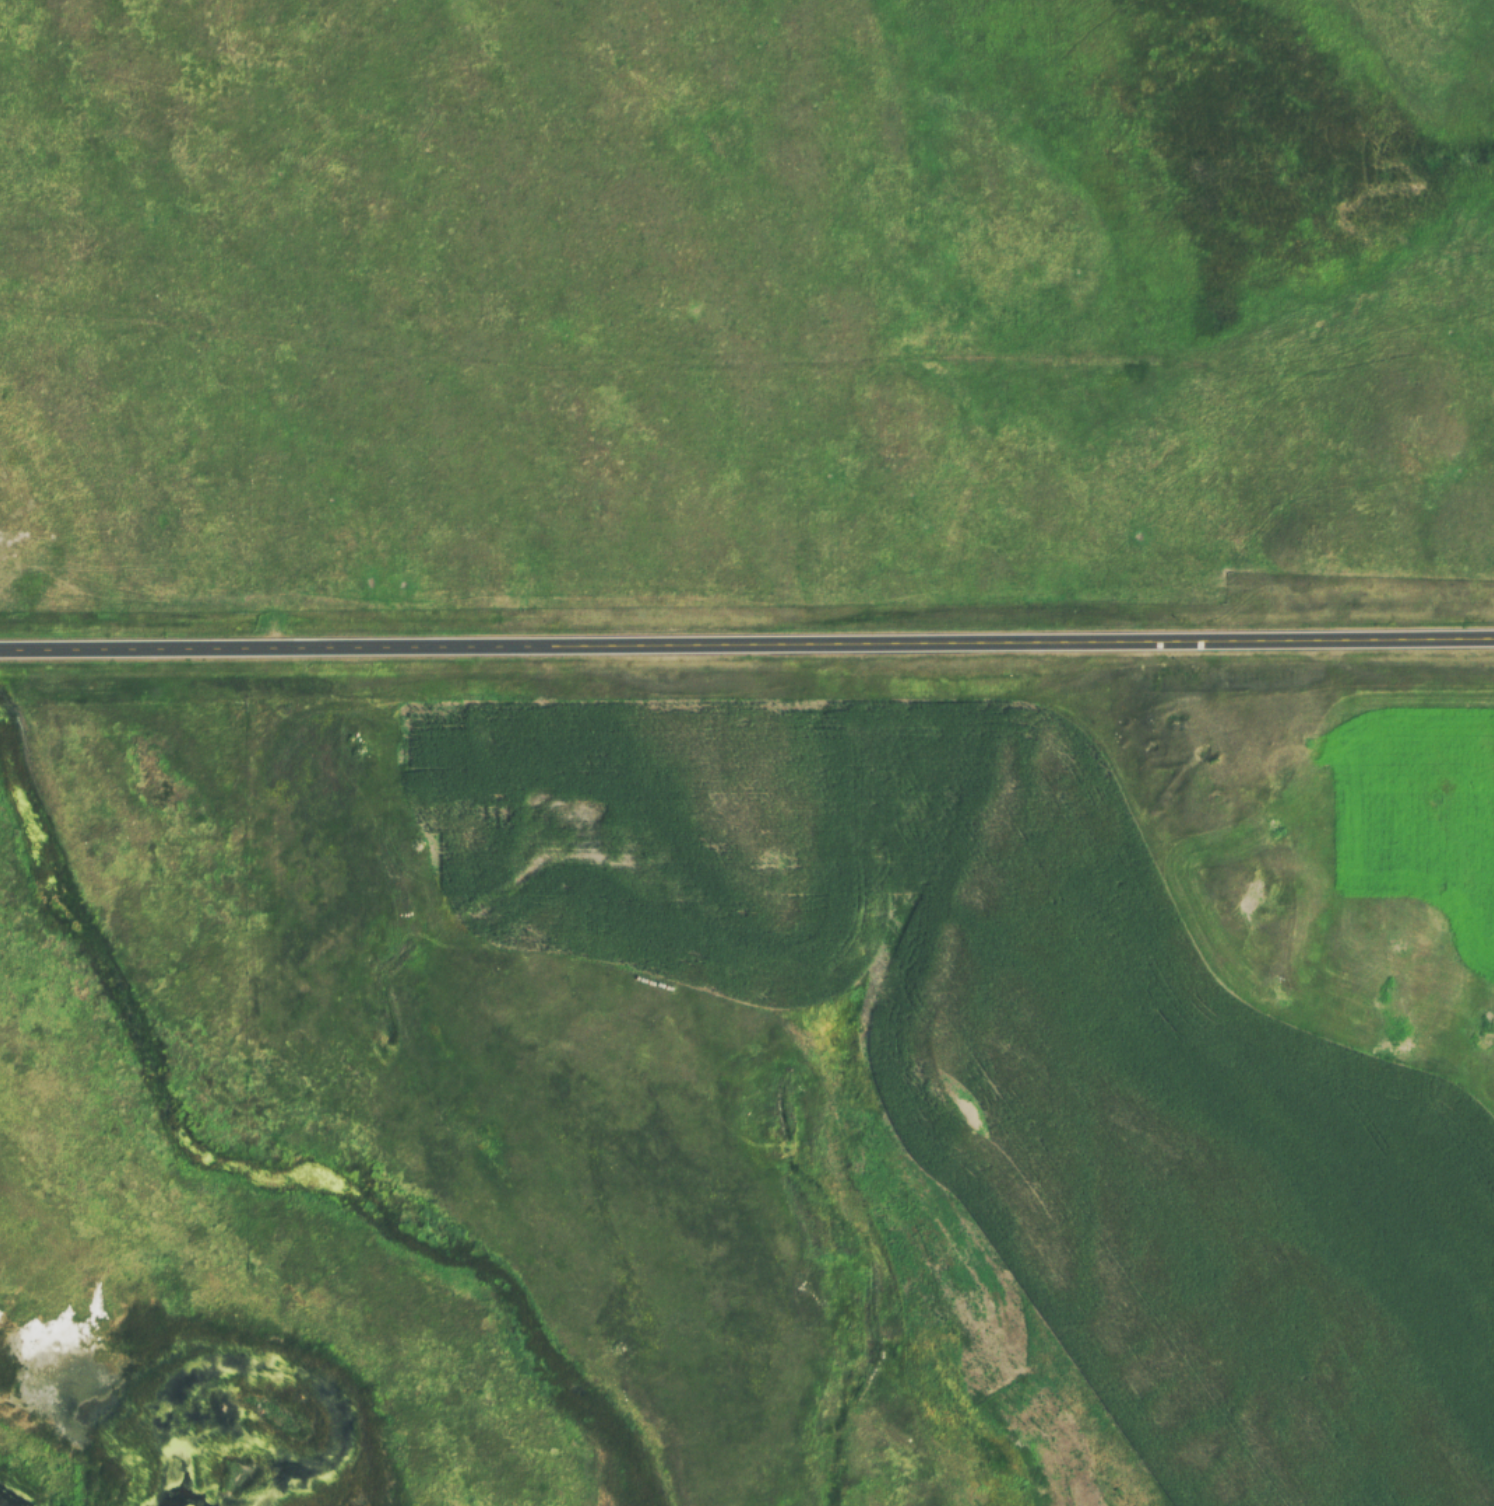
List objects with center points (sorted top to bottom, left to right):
road: (747, 644)

